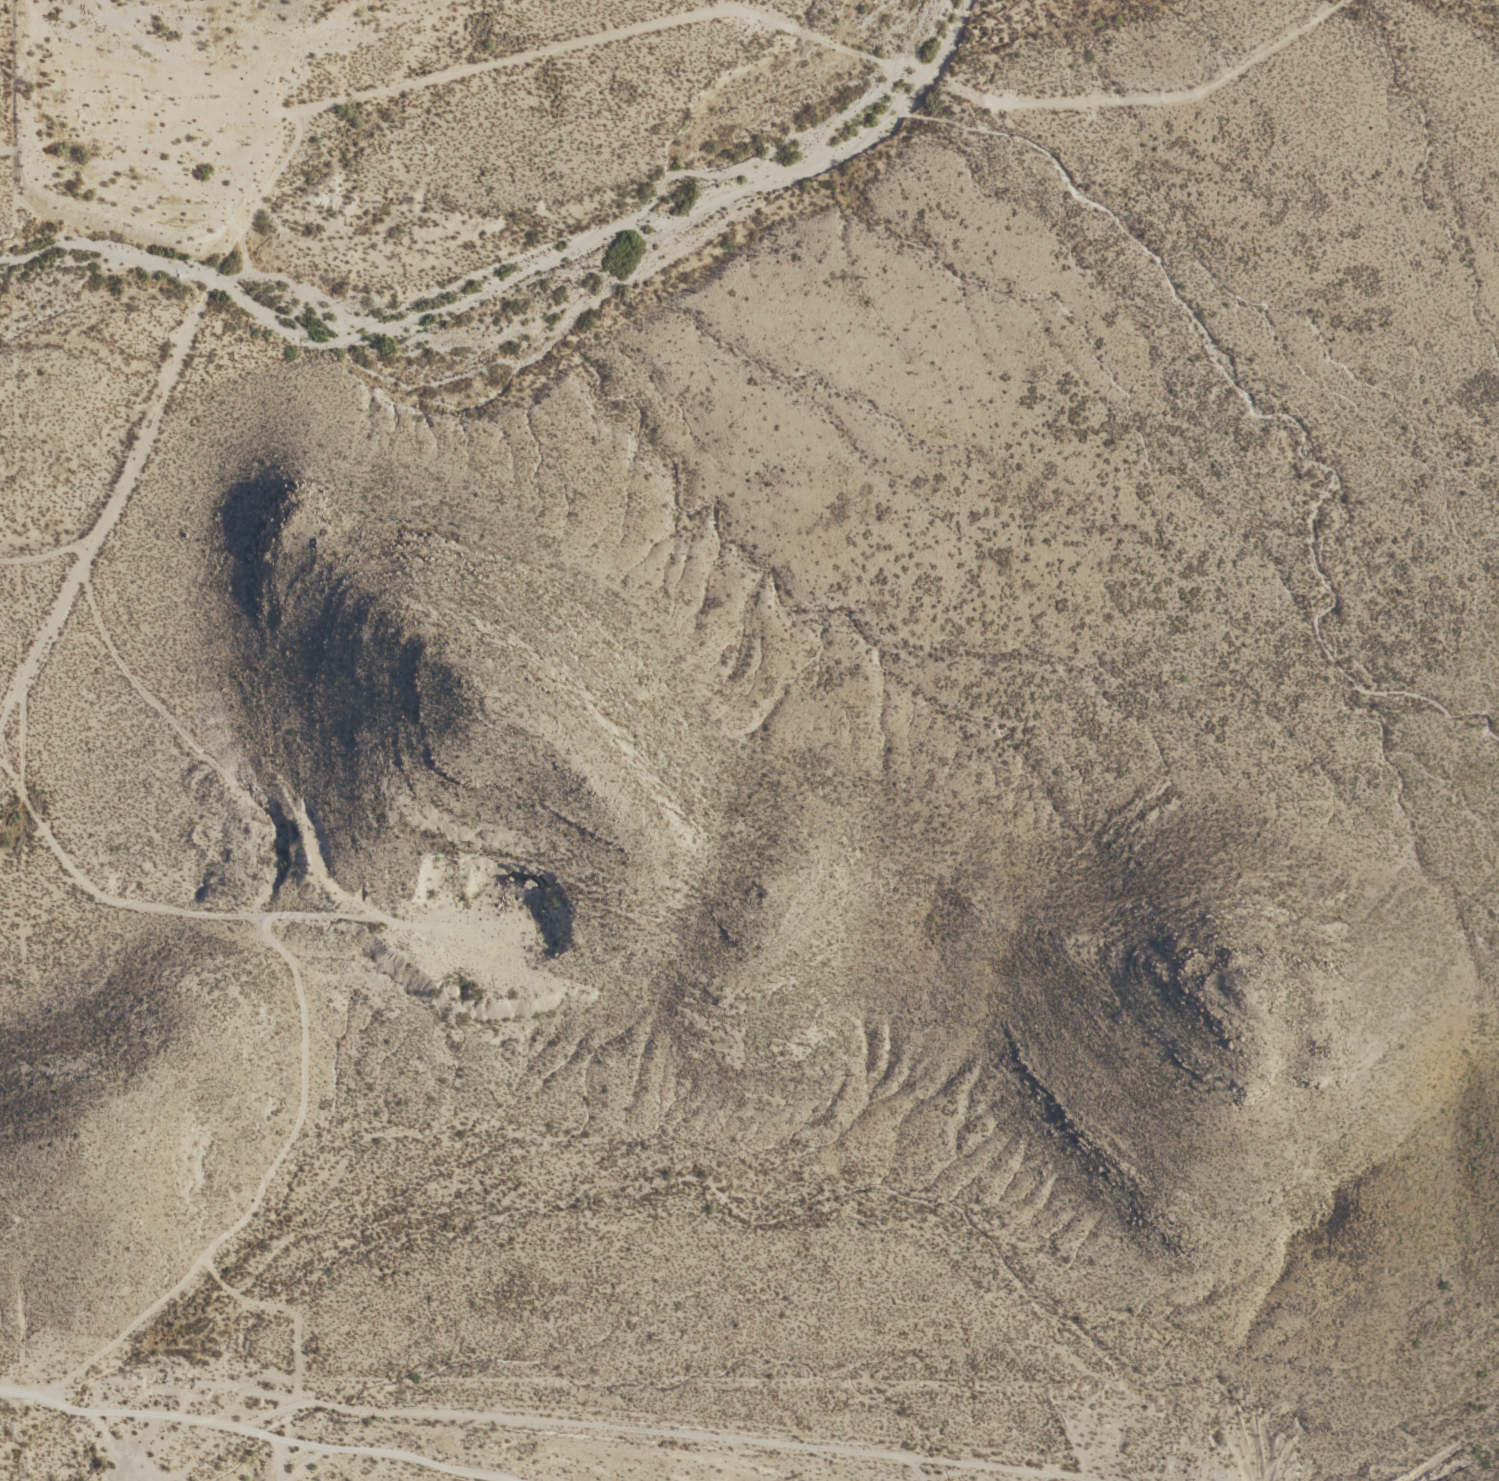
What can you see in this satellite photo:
road: (831, 49)
road: (151, 131)
road: (219, 267)
road: (29, 652)
road: (228, 770)
quarry: (480, 927)
road: (114, 1406)
road: (21, 1436)

